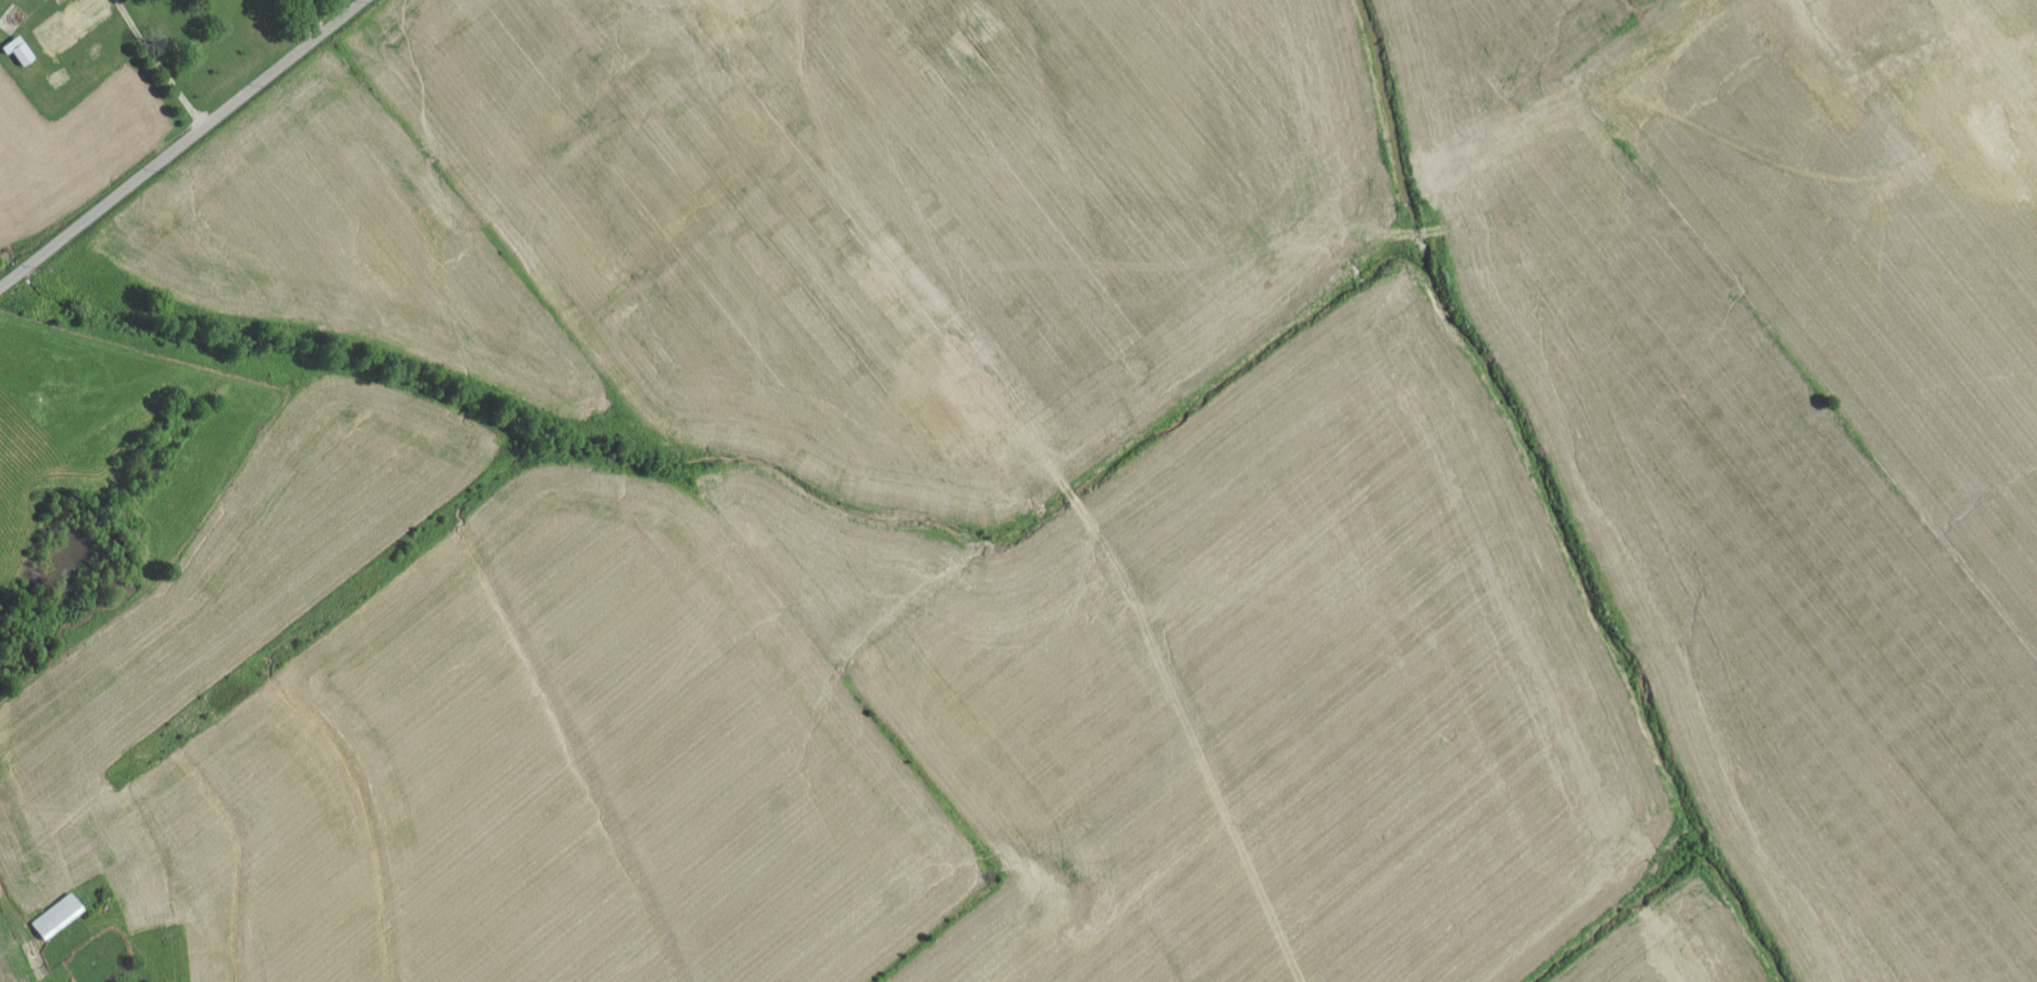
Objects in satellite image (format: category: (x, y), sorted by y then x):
building: (40, 1)
building: (703, 3)
road: (308, 19)
building: (71, 29)
building: (16, 58)
road: (159, 64)
road: (182, 145)
building: (53, 923)

